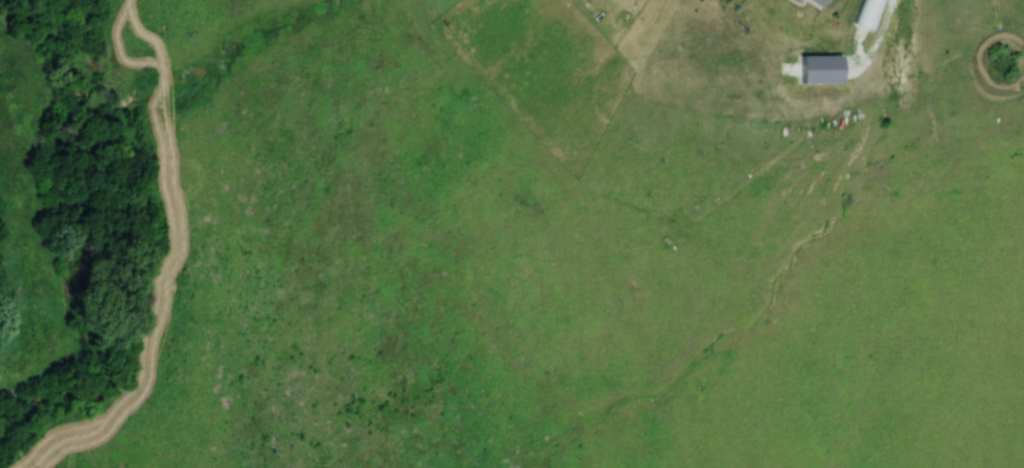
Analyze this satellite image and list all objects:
building: (796, 1)
building: (818, 2)

